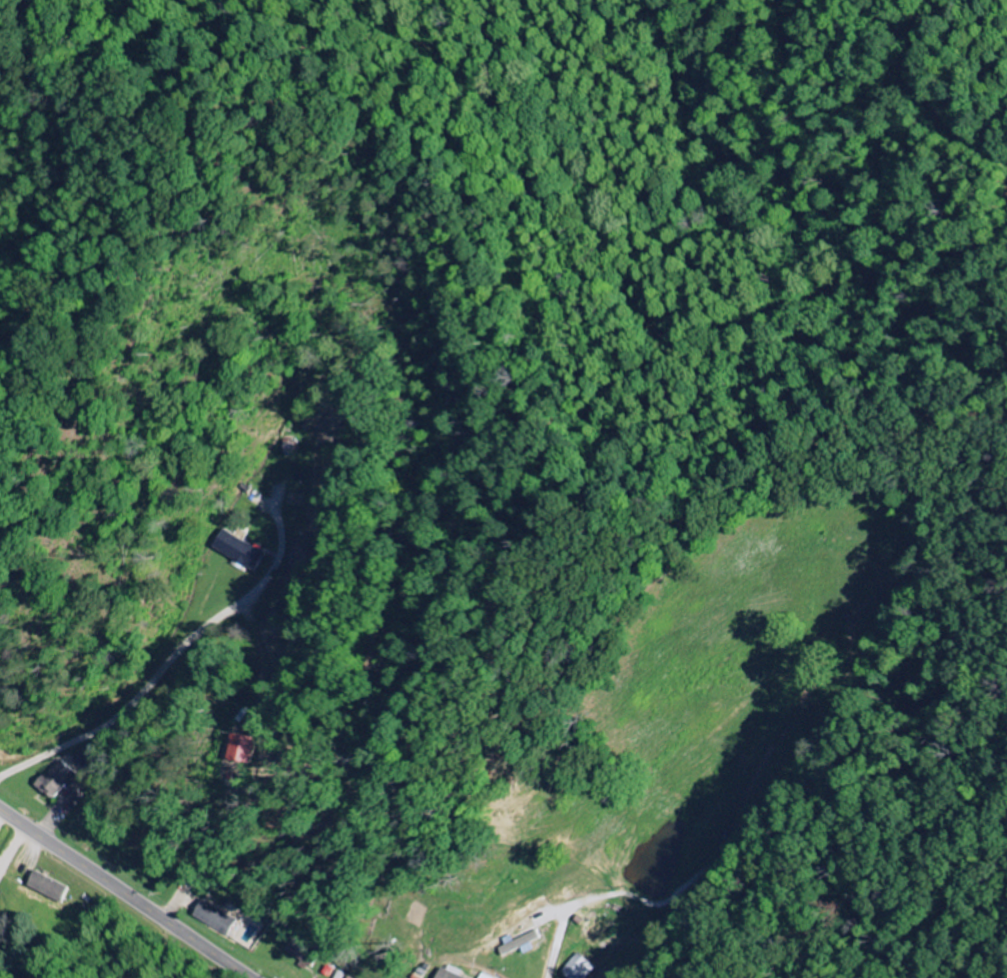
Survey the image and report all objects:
building: (241, 551)
building: (245, 748)
building: (87, 760)
building: (63, 780)
building: (47, 887)
road: (125, 894)
building: (219, 918)
building: (580, 967)
building: (451, 973)
building: (349, 977)

